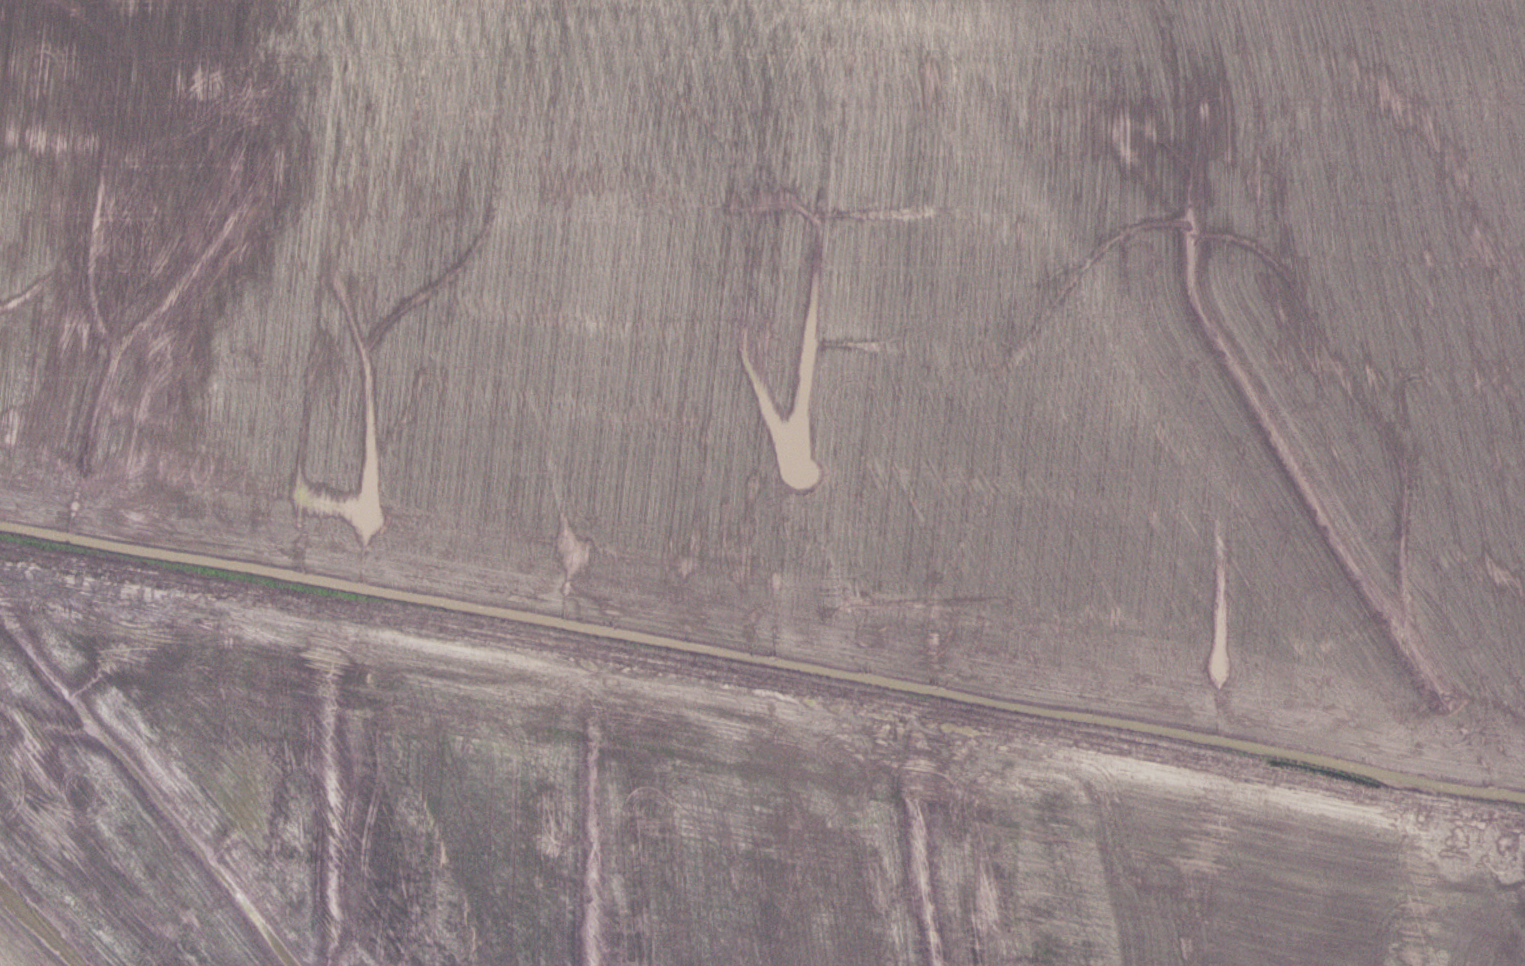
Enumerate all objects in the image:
road: (762, 615)

